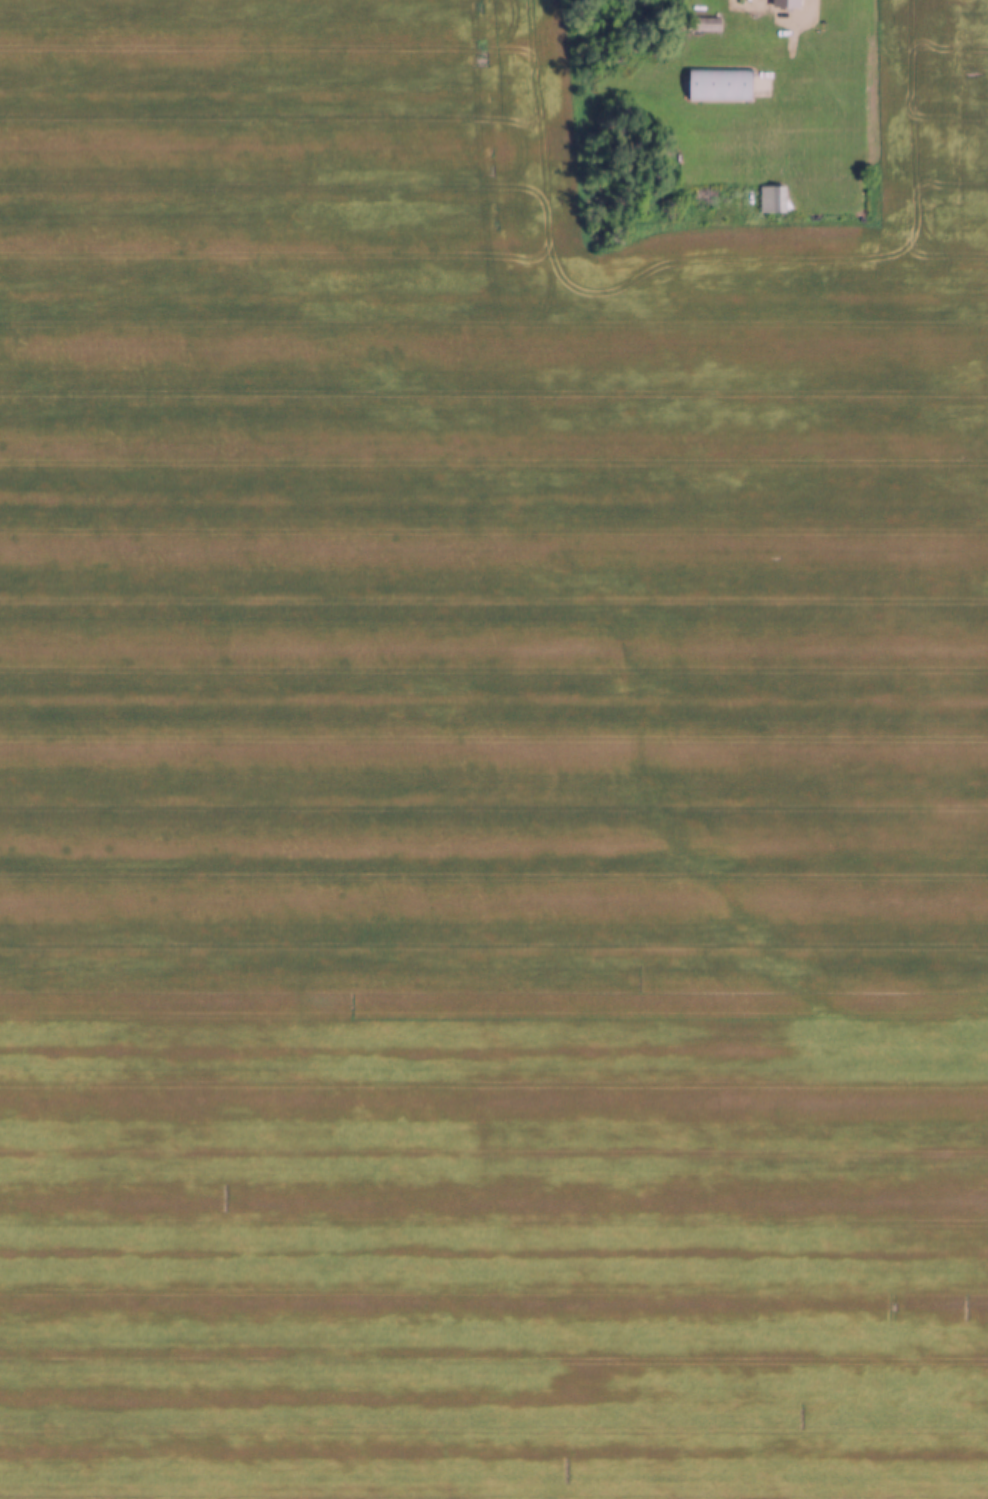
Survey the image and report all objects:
building: (744, 3)
road: (801, 3)
building: (705, 23)
building: (718, 84)
building: (771, 198)

